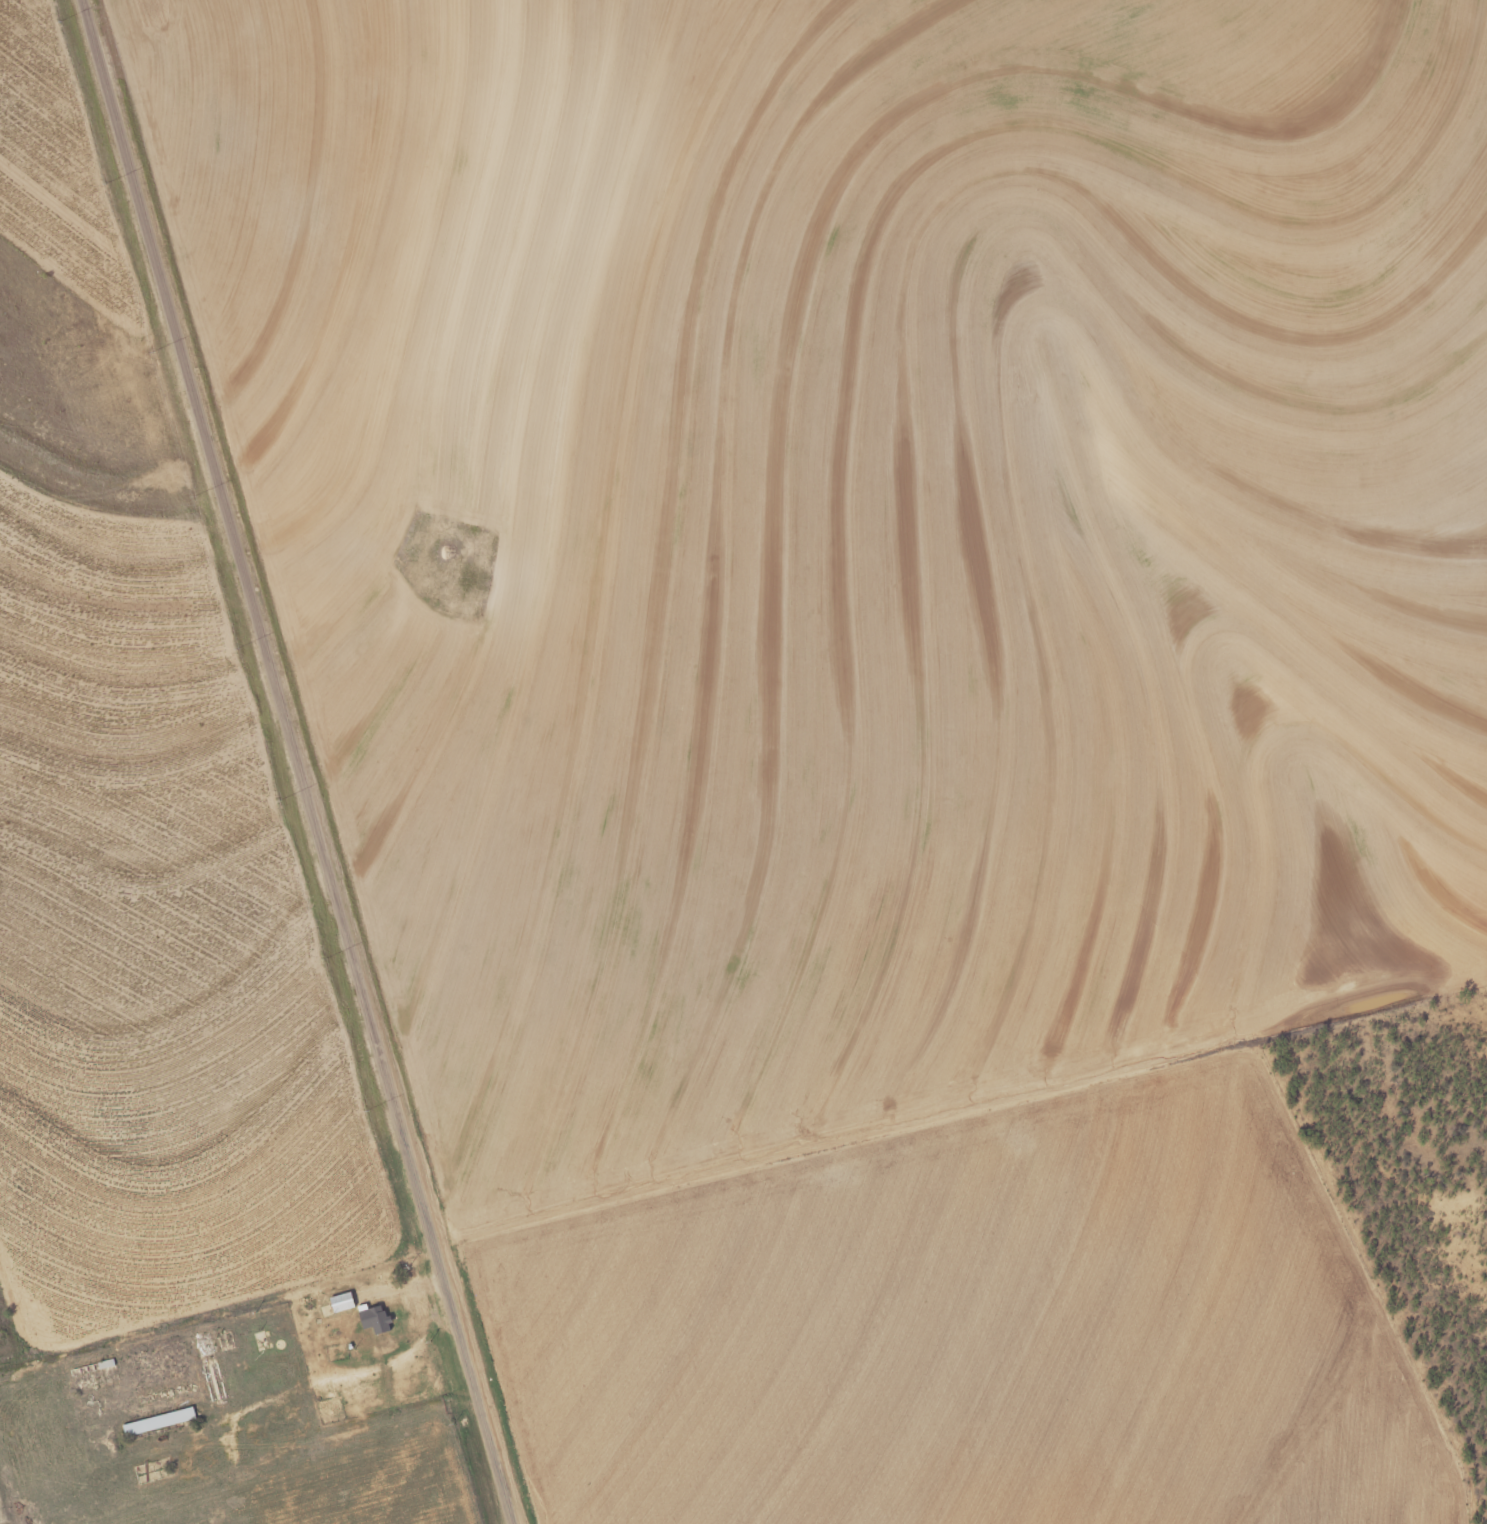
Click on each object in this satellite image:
road: (302, 762)
building: (342, 1301)
building: (374, 1316)
building: (161, 1420)

